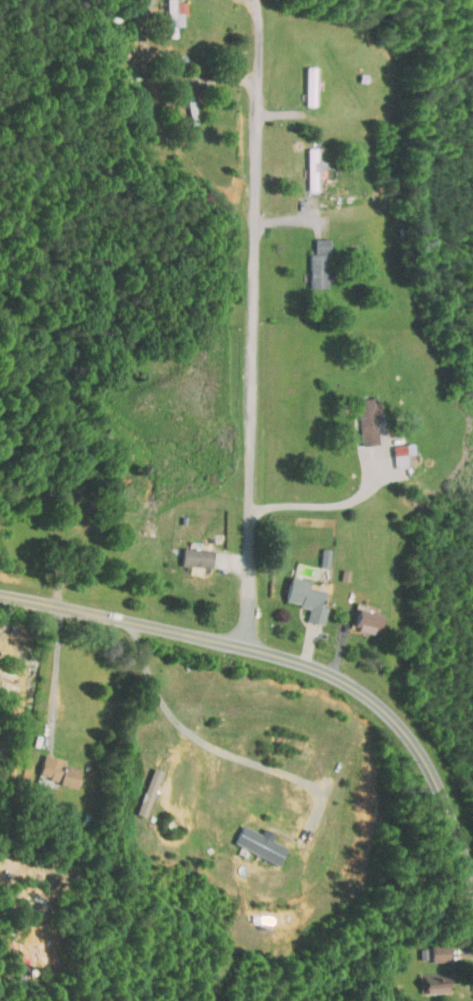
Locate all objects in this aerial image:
building: (166, 12)
road: (170, 80)
building: (304, 163)
road: (286, 219)
building: (310, 259)
road: (255, 320)
building: (358, 415)
building: (393, 448)
road: (321, 505)
building: (188, 549)
building: (316, 551)
building: (298, 592)
building: (358, 615)
road: (290, 656)
road: (56, 678)
road: (213, 746)
building: (49, 764)
building: (139, 785)
building: (254, 837)
building: (431, 946)
building: (427, 980)

